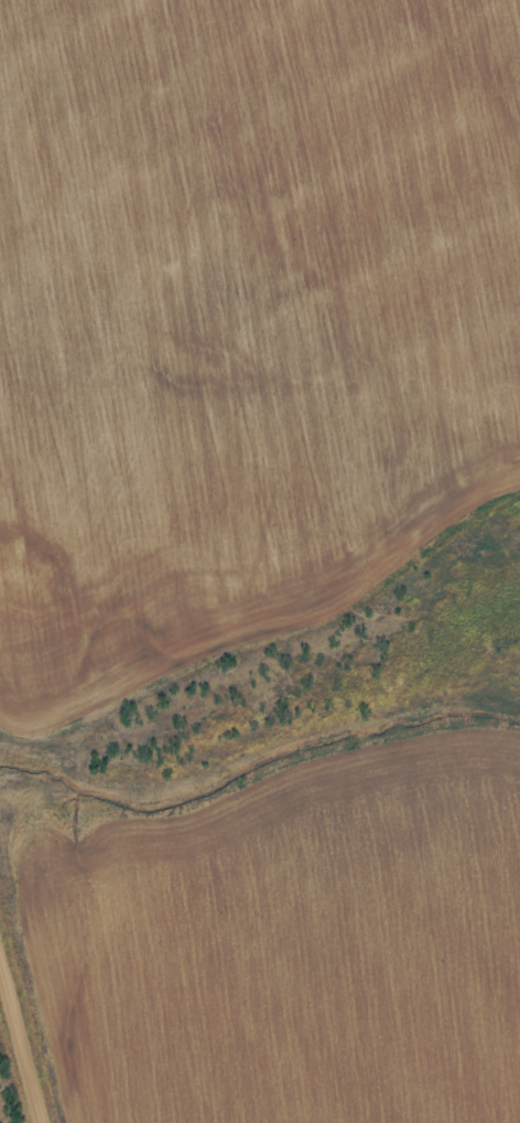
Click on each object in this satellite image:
road: (19, 1044)

